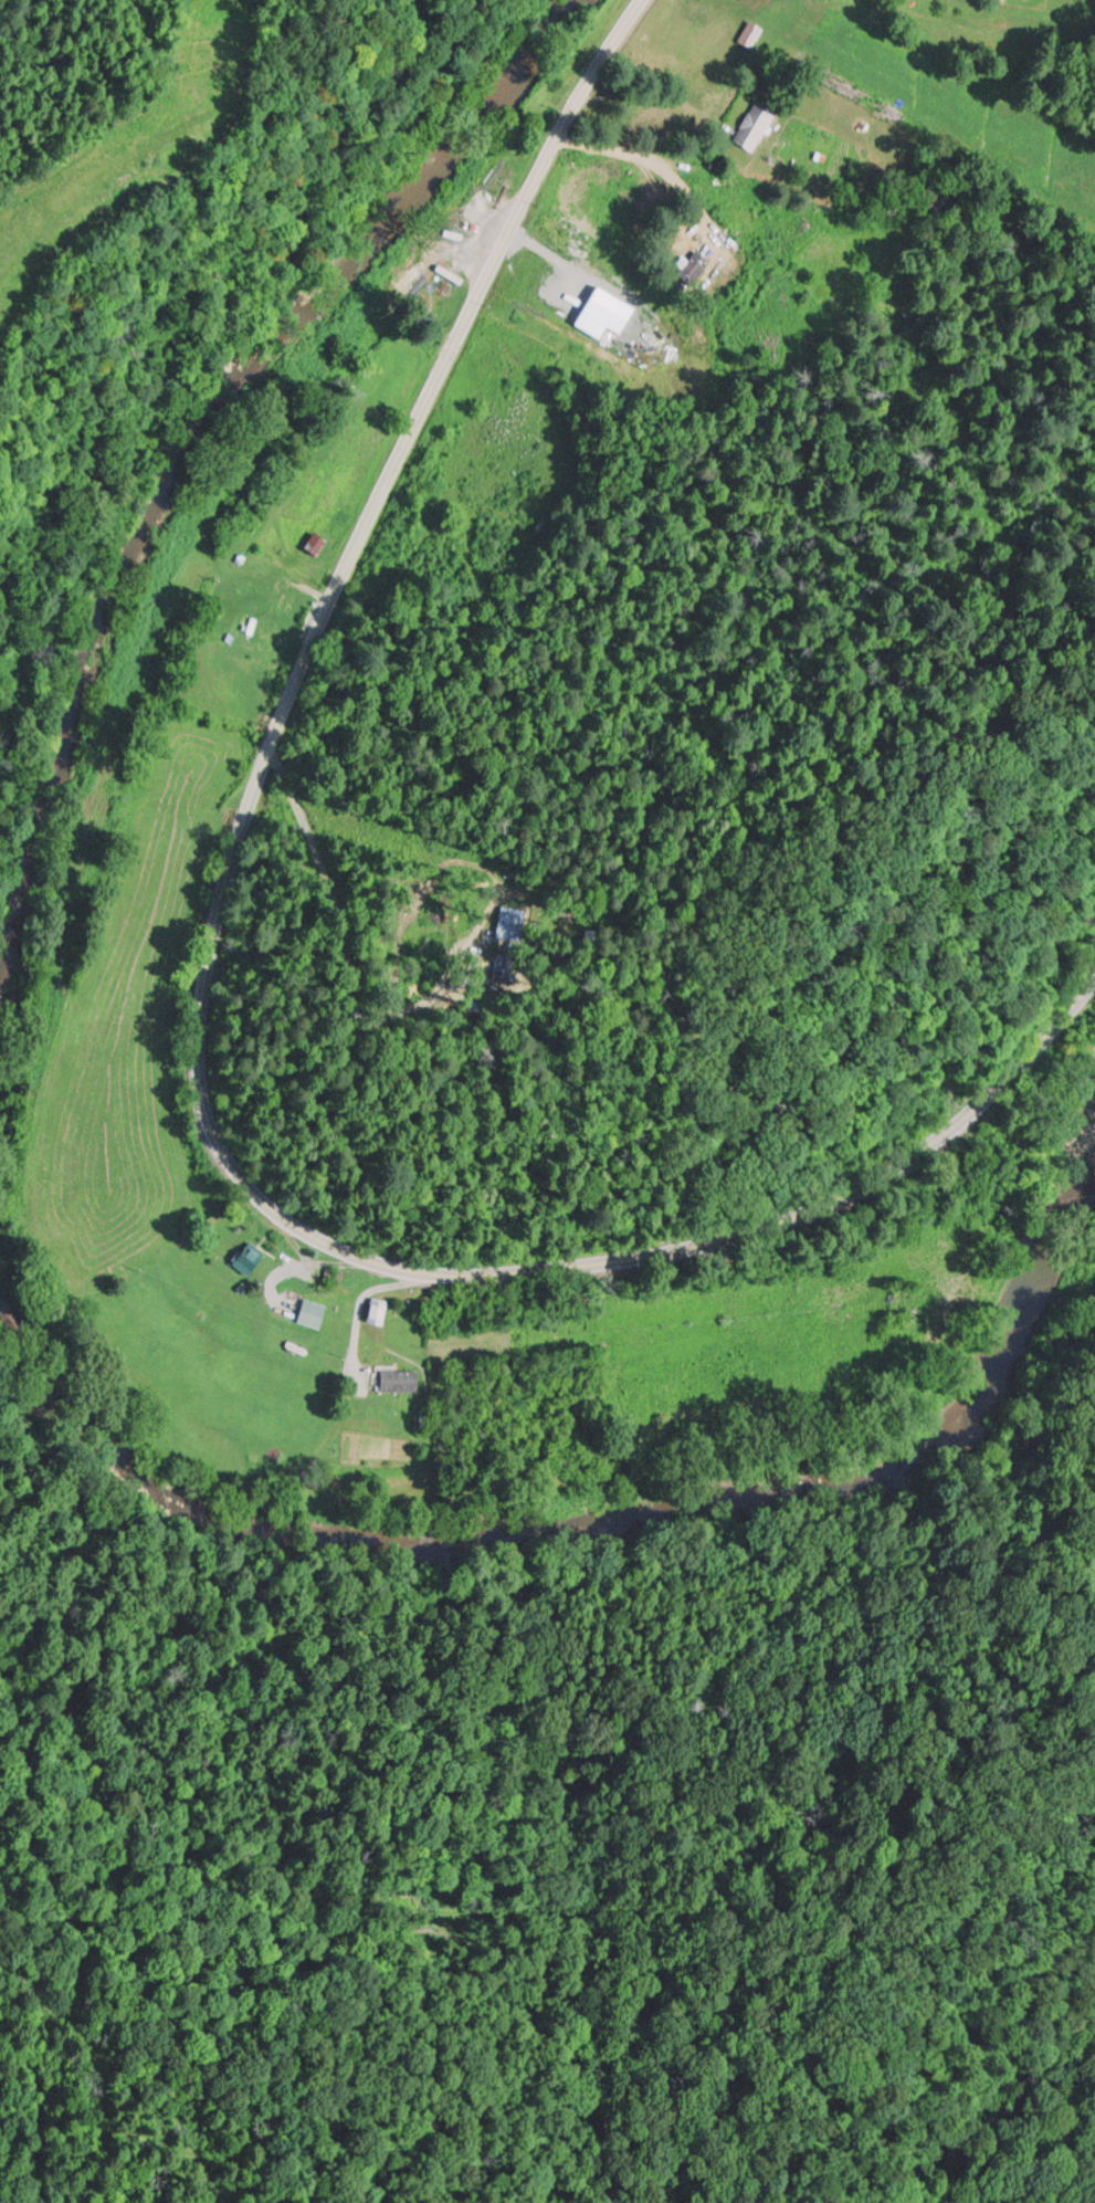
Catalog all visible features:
building: (755, 33)
building: (760, 124)
river: (196, 430)
building: (322, 543)
building: (271, 632)
building: (515, 922)
building: (507, 965)
road: (203, 1027)
building: (254, 1258)
road: (365, 1307)
building: (385, 1312)
building: (318, 1313)
building: (406, 1378)
river: (597, 1520)

